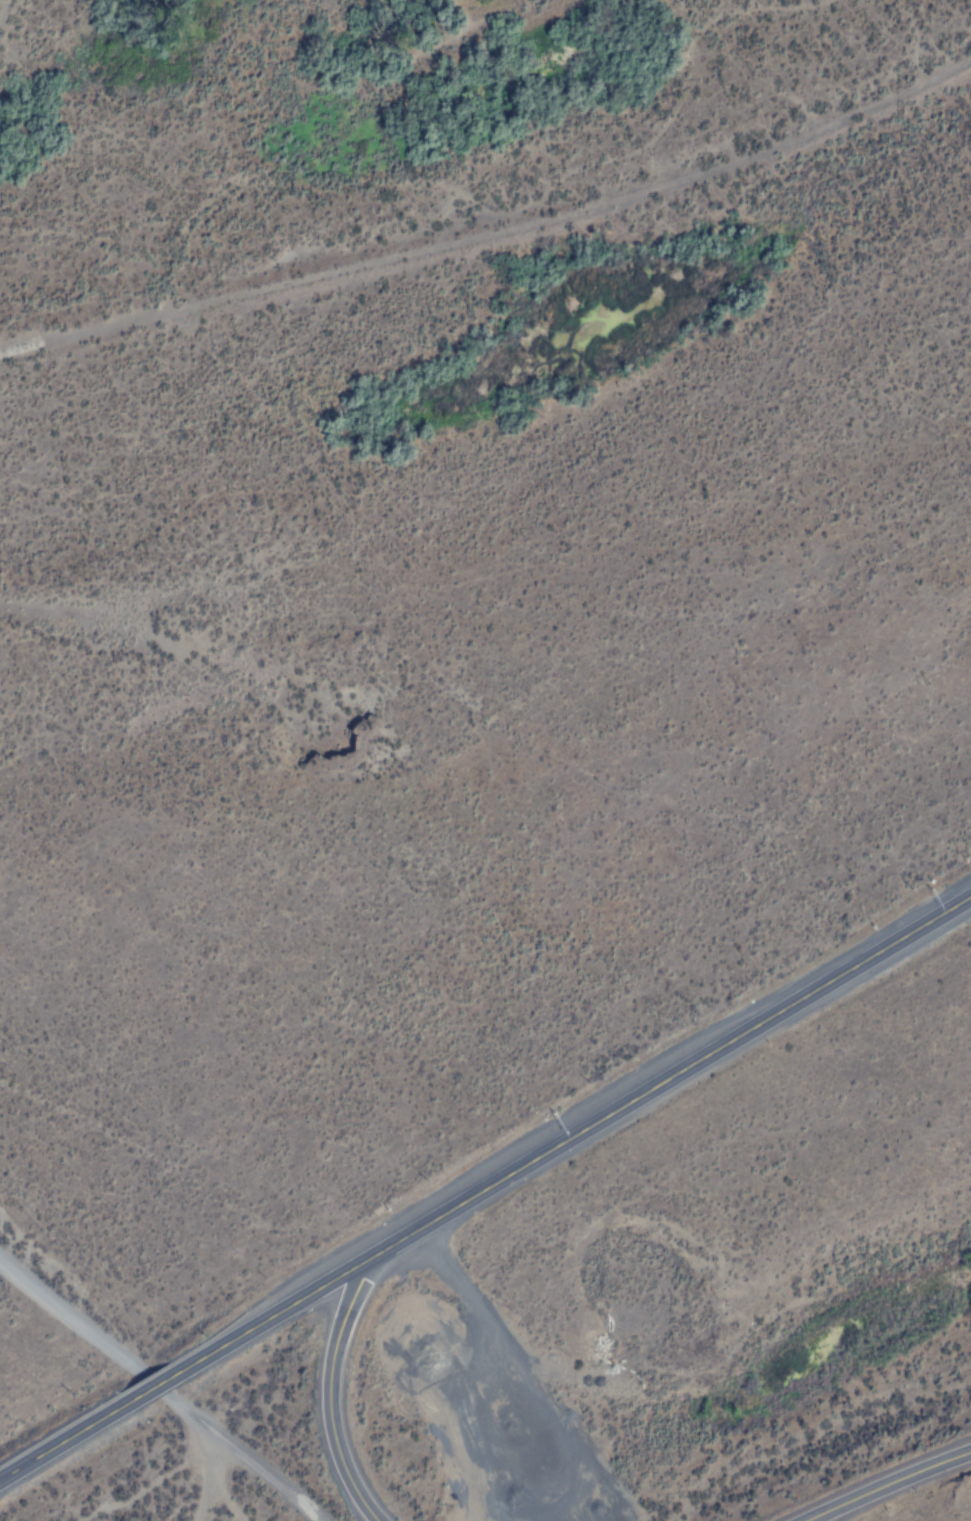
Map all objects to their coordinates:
road: (495, 229)
road: (574, 1134)
road: (159, 1381)
road: (157, 1387)
road: (330, 1392)
road: (71, 1435)
road: (205, 1478)
road: (890, 1484)

